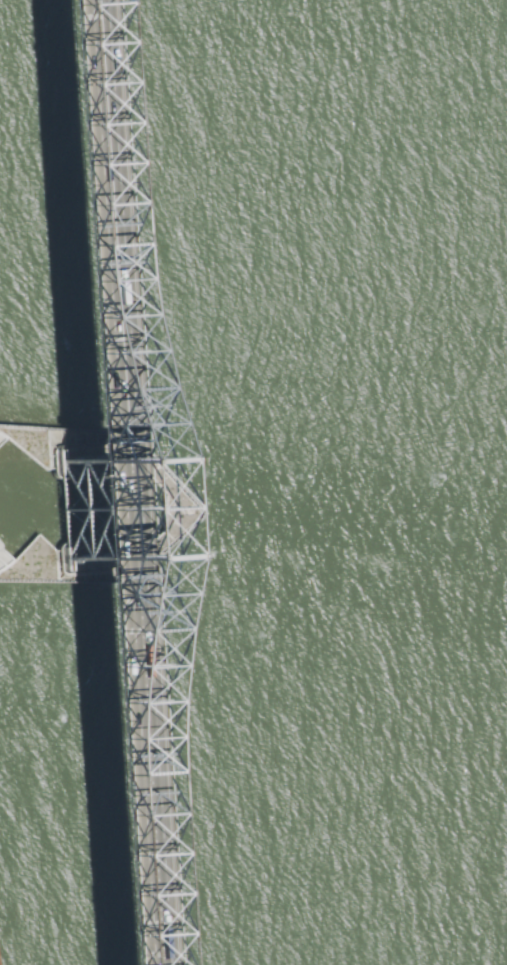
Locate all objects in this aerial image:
building: (86, 457)
road: (87, 482)
pier: (179, 502)
building: (92, 556)

